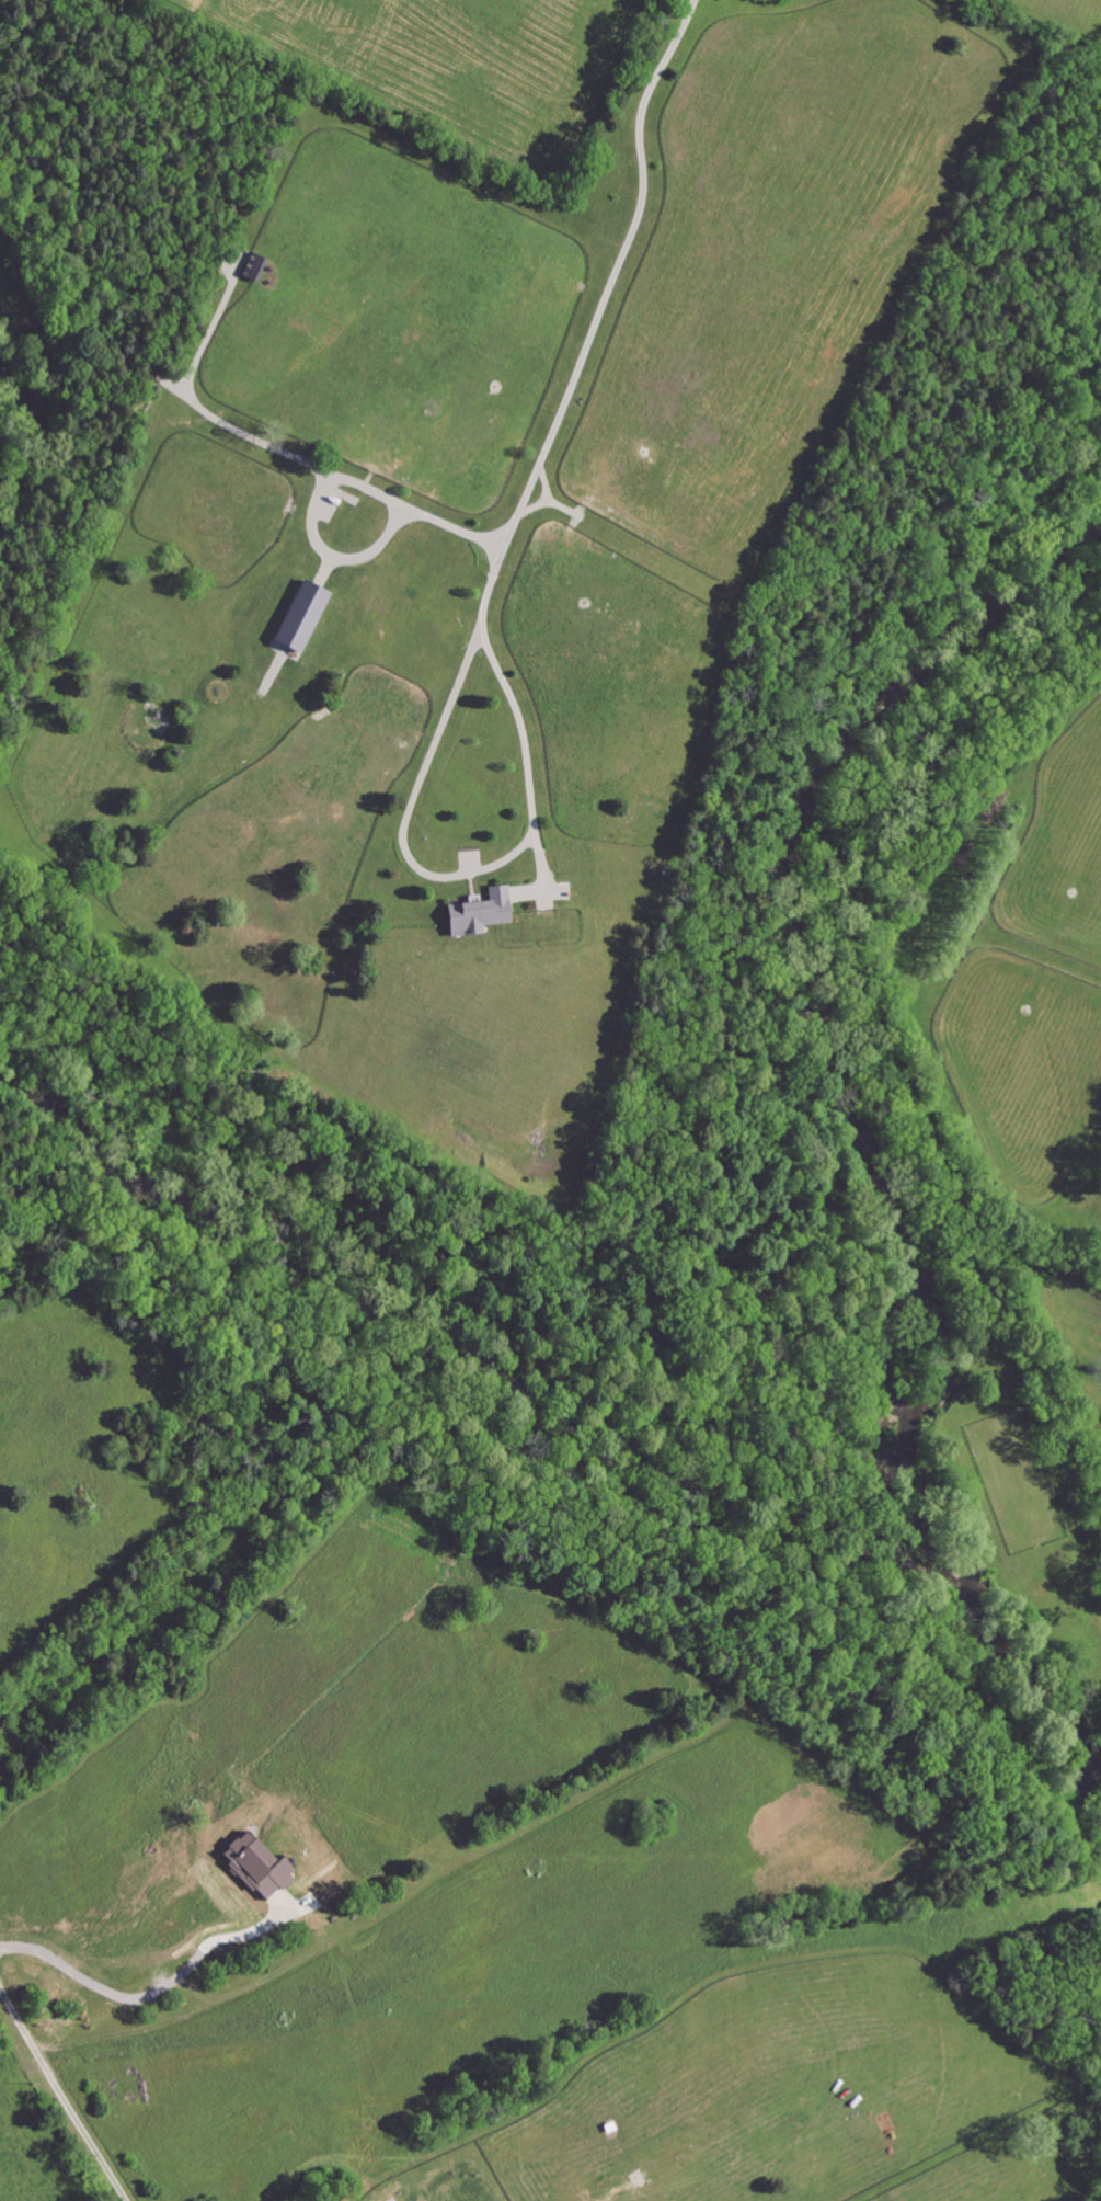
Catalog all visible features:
building: (253, 267)
road: (599, 316)
road: (277, 451)
building: (300, 617)
road: (459, 876)
building: (479, 914)
river: (955, 1592)
building: (259, 1864)
road: (146, 1959)
road: (60, 2090)

